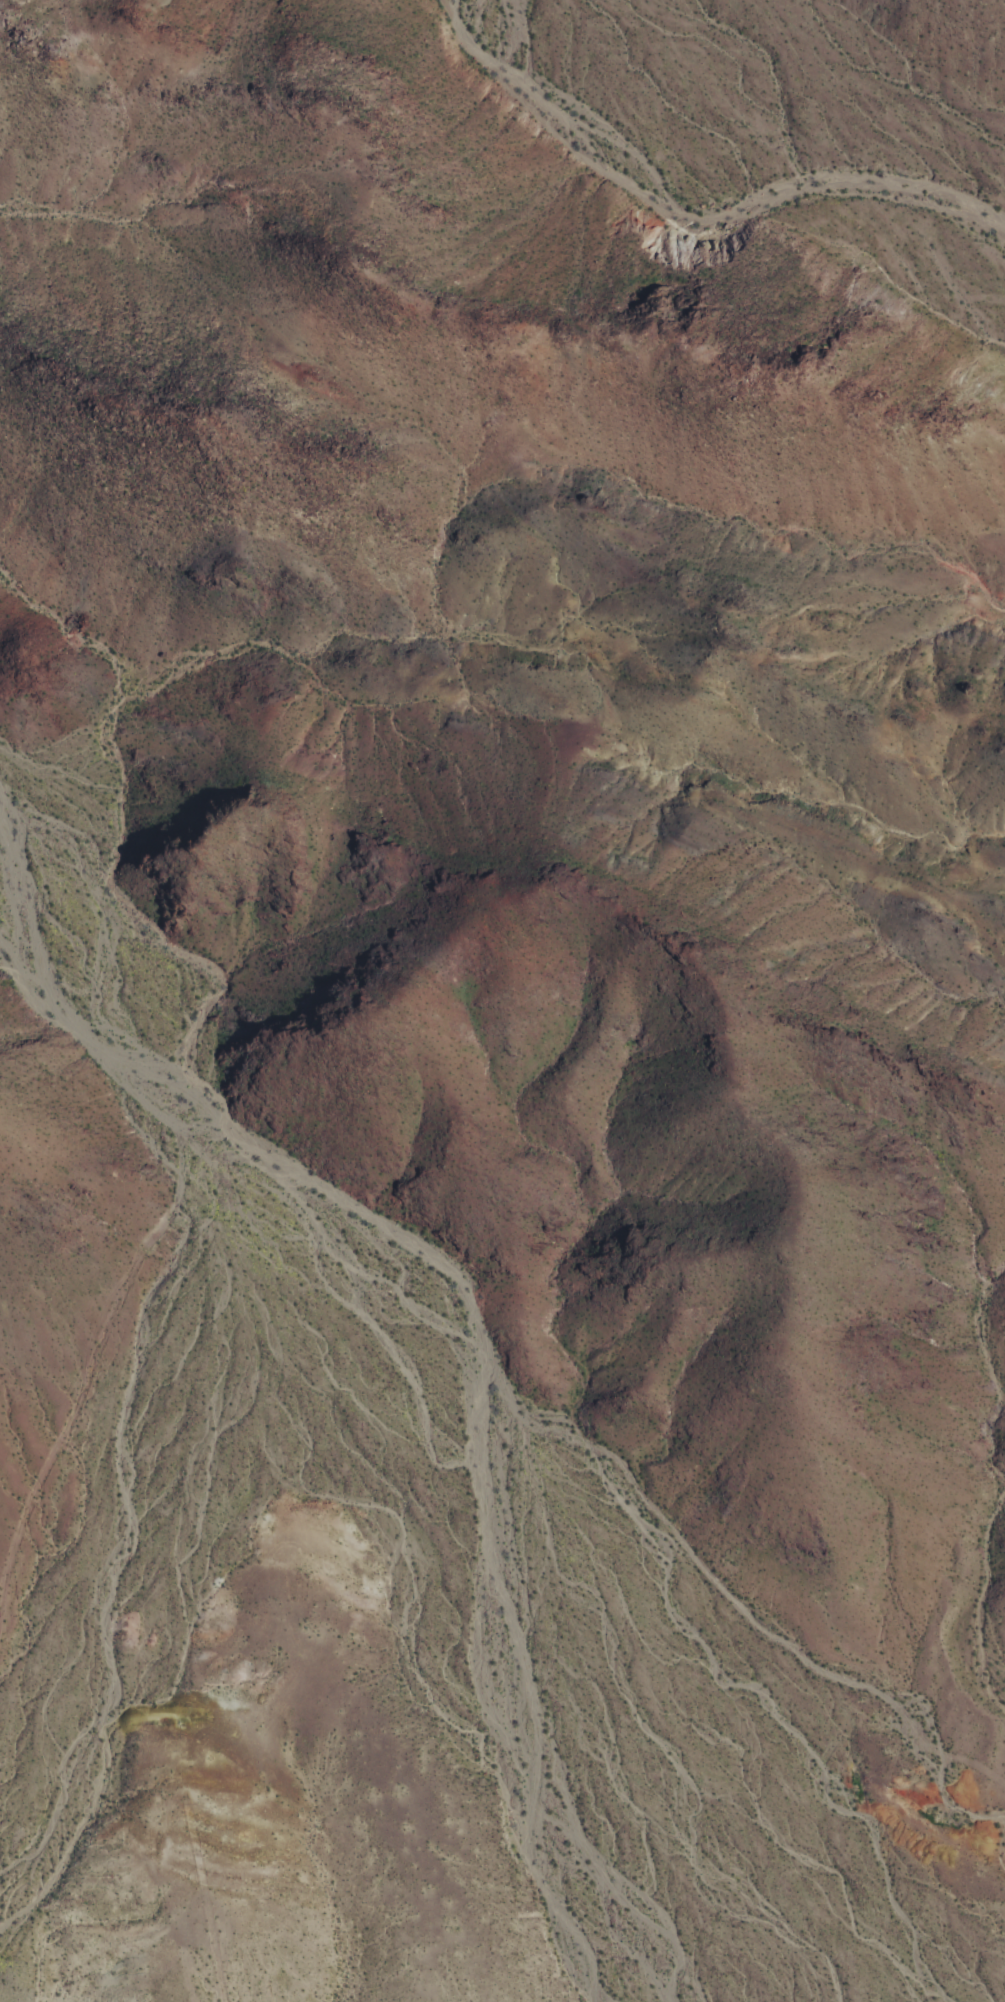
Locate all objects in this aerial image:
road: (995, 1824)

